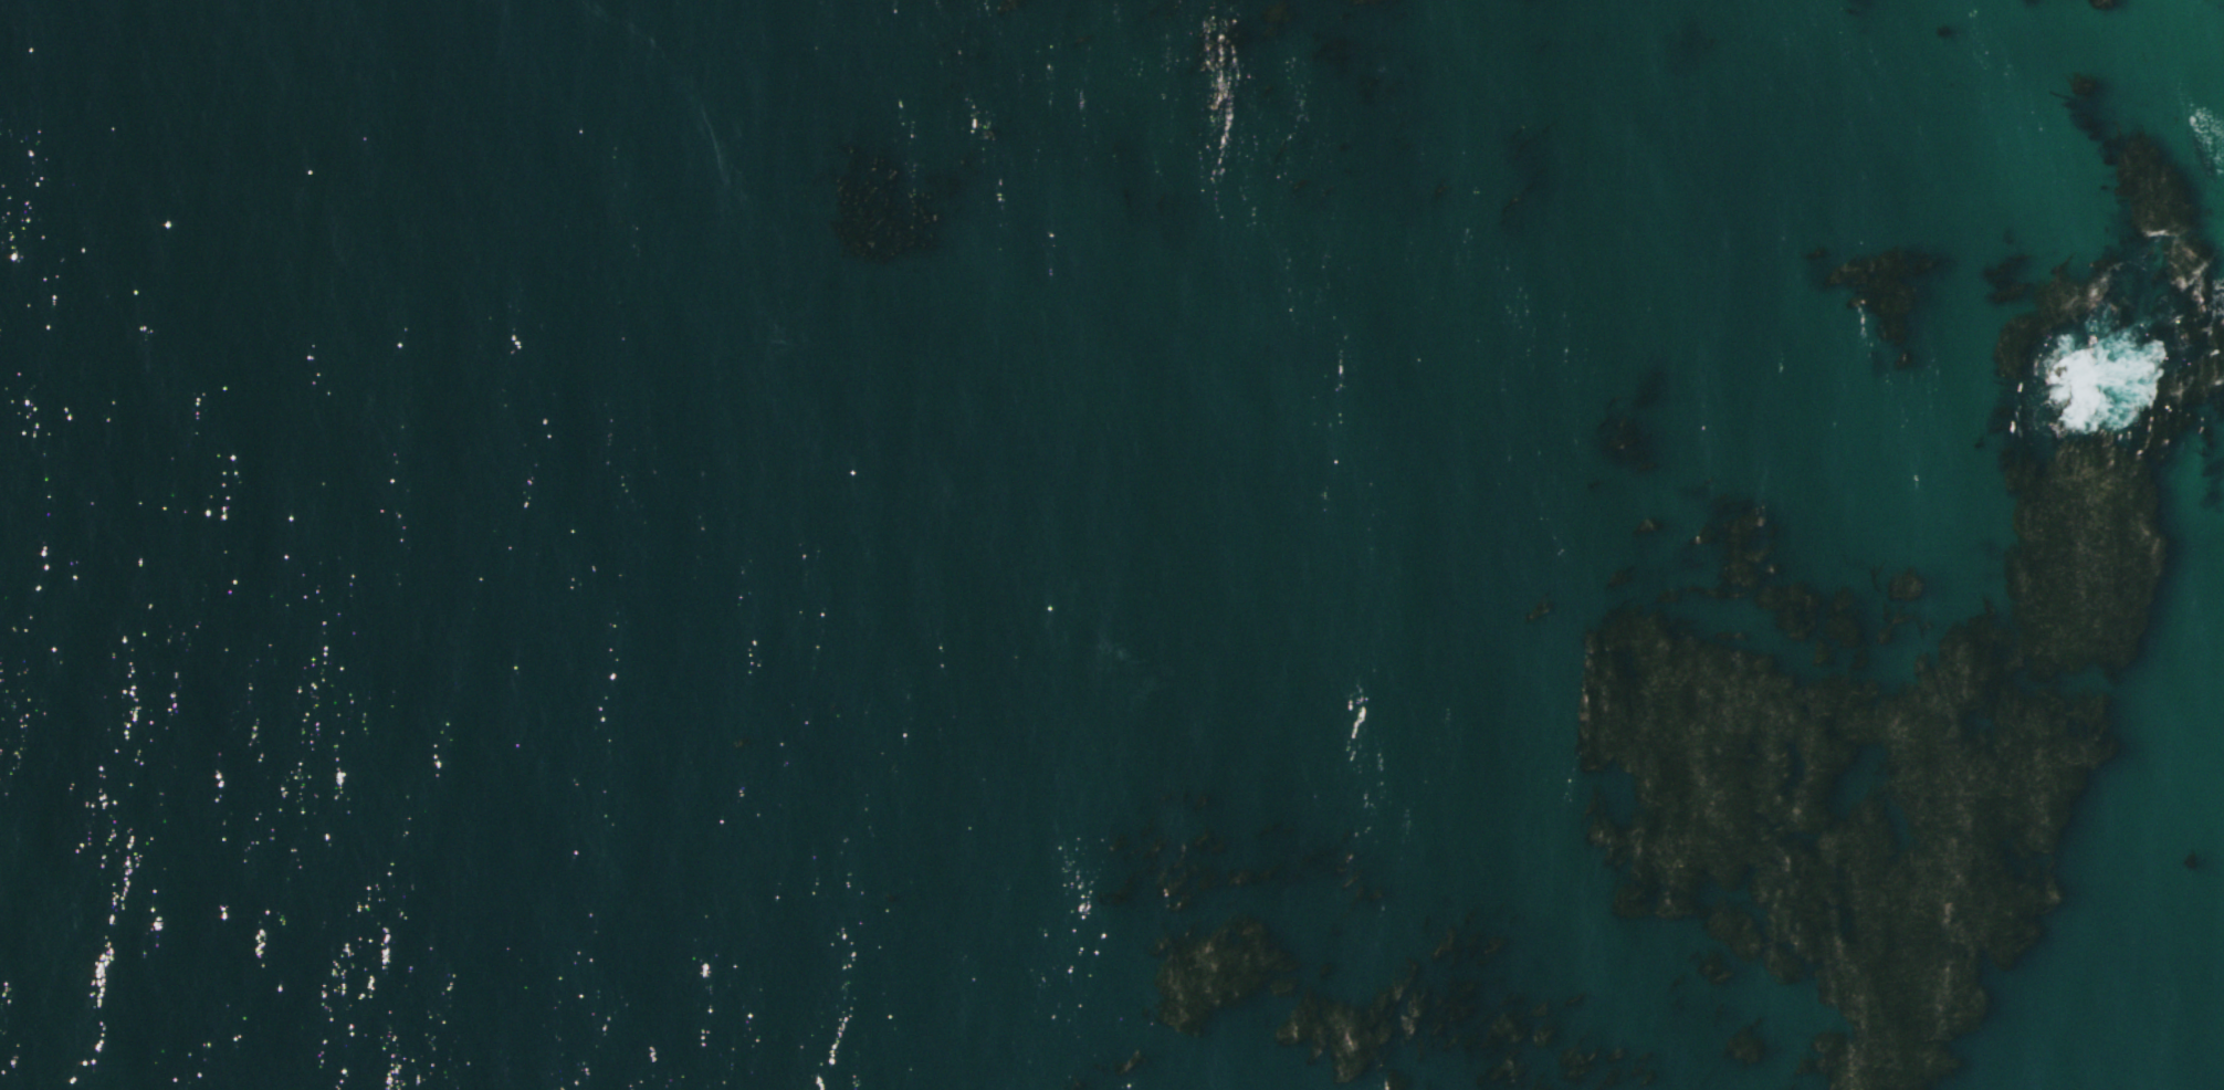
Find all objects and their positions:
building: (2060, 386)

